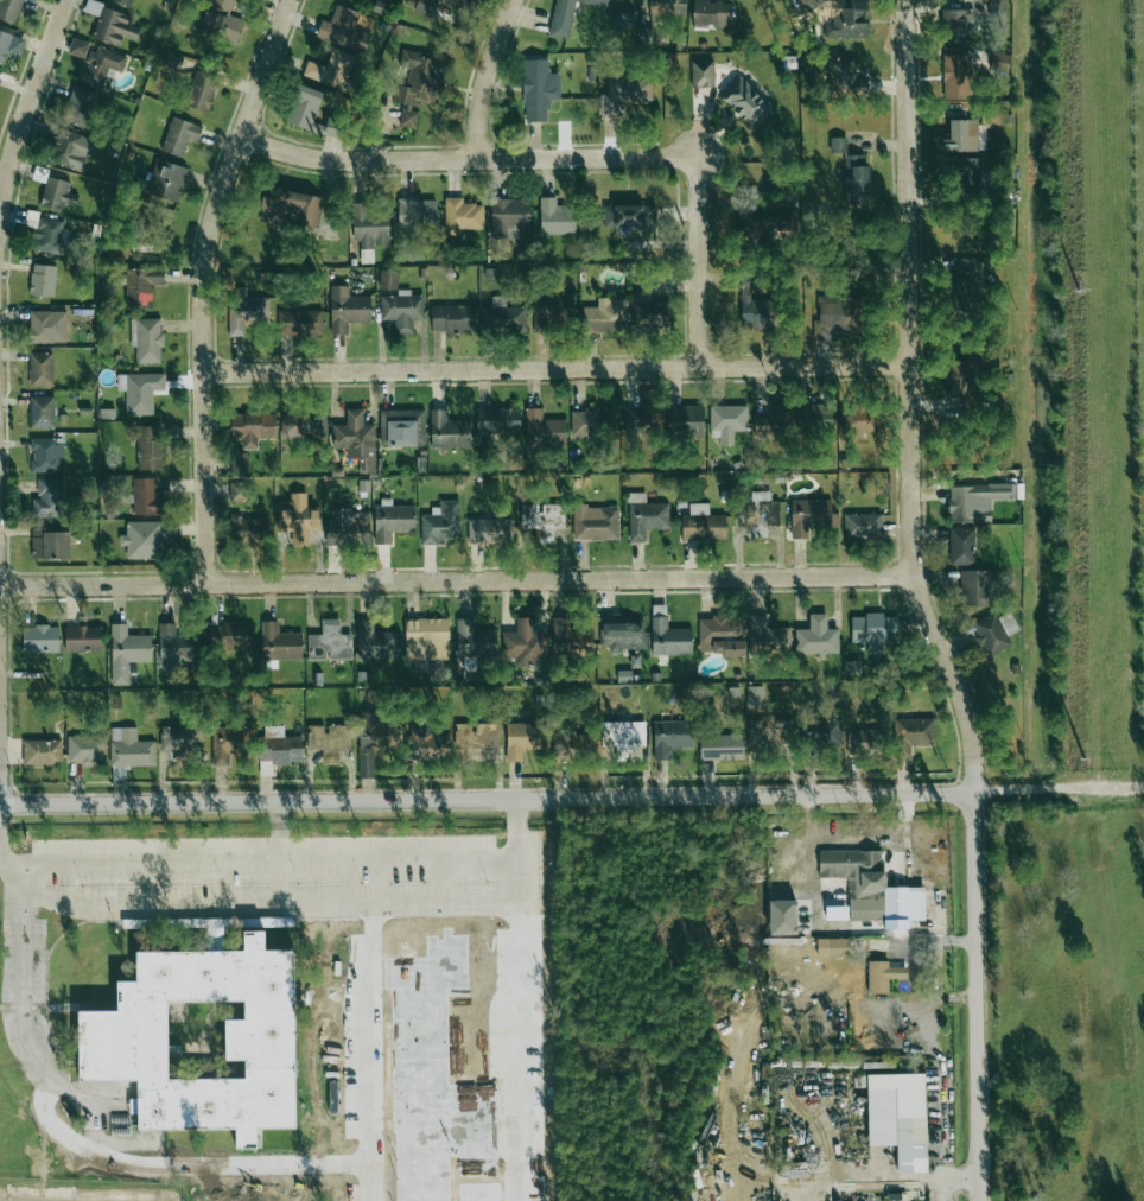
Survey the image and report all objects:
building: (811, 4)
building: (222, 5)
building: (431, 6)
building: (997, 6)
building: (668, 7)
building: (9, 9)
building: (711, 13)
building: (567, 15)
building: (624, 19)
building: (847, 19)
building: (222, 25)
building: (956, 25)
building: (343, 30)
building: (9, 44)
building: (77, 47)
building: (100, 65)
building: (329, 69)
building: (701, 74)
building: (955, 76)
road: (484, 77)
building: (844, 77)
building: (422, 78)
building: (538, 89)
road: (28, 90)
building: (202, 91)
building: (623, 94)
building: (745, 102)
building: (80, 106)
building: (304, 107)
building: (409, 117)
building: (179, 135)
building: (838, 145)
building: (71, 150)
road: (469, 160)
building: (967, 170)
building: (856, 179)
building: (167, 180)
building: (58, 195)
building: (291, 208)
building: (417, 214)
building: (463, 215)
building: (509, 216)
building: (629, 216)
building: (557, 217)
building: (370, 225)
building: (45, 233)
road: (699, 260)
building: (388, 279)
building: (43, 280)
road: (205, 284)
building: (141, 285)
road: (905, 287)
building: (956, 288)
power tower: (1079, 290)
building: (752, 305)
building: (348, 309)
building: (402, 310)
building: (553, 312)
building: (247, 313)
building: (647, 314)
building: (503, 316)
building: (605, 316)
building: (837, 316)
building: (453, 318)
building: (300, 323)
building: (47, 326)
building: (147, 339)
road: (557, 363)
building: (40, 369)
building: (962, 381)
building: (140, 390)
building: (42, 412)
building: (814, 418)
building: (863, 419)
building: (498, 420)
building: (640, 420)
building: (685, 420)
building: (591, 421)
building: (727, 421)
building: (774, 421)
building: (303, 425)
building: (250, 427)
building: (402, 427)
building: (544, 428)
building: (449, 431)
building: (356, 439)
building: (150, 447)
building: (46, 455)
building: (239, 463)
building: (236, 490)
building: (147, 497)
building: (49, 498)
building: (978, 501)
building: (758, 510)
building: (646, 516)
building: (811, 516)
building: (542, 517)
building: (299, 520)
building: (392, 520)
building: (441, 522)
building: (703, 523)
building: (597, 525)
building: (863, 526)
building: (348, 528)
building: (248, 530)
building: (490, 530)
building: (144, 540)
building: (50, 544)
building: (961, 546)
road: (457, 578)
building: (975, 587)
building: (873, 630)
building: (623, 634)
building: (991, 634)
building: (215, 635)
building: (237, 635)
building: (668, 635)
building: (720, 635)
building: (767, 635)
building: (816, 636)
building: (564, 637)
building: (40, 638)
building: (82, 638)
building: (427, 640)
building: (474, 640)
building: (279, 642)
building: (330, 642)
building: (375, 642)
building: (525, 643)
building: (176, 647)
building: (127, 652)
building: (852, 668)
building: (755, 697)
building: (821, 732)
building: (770, 735)
building: (913, 735)
building: (476, 736)
building: (623, 736)
building: (672, 737)
building: (330, 739)
building: (522, 739)
building: (865, 741)
building: (180, 742)
building: (227, 743)
building: (371, 744)
building: (572, 744)
building: (432, 746)
building: (722, 746)
building: (85, 749)
building: (131, 749)
building: (42, 752)
power tower: (1093, 761)
road: (1059, 790)
road: (487, 798)
road: (974, 882)
building: (871, 887)
road: (25, 888)
road: (344, 903)
building: (837, 914)
building: (783, 917)
building: (835, 947)
building: (883, 976)
road: (23, 986)
building: (122, 1038)
building: (898, 1117)
road: (891, 1182)

